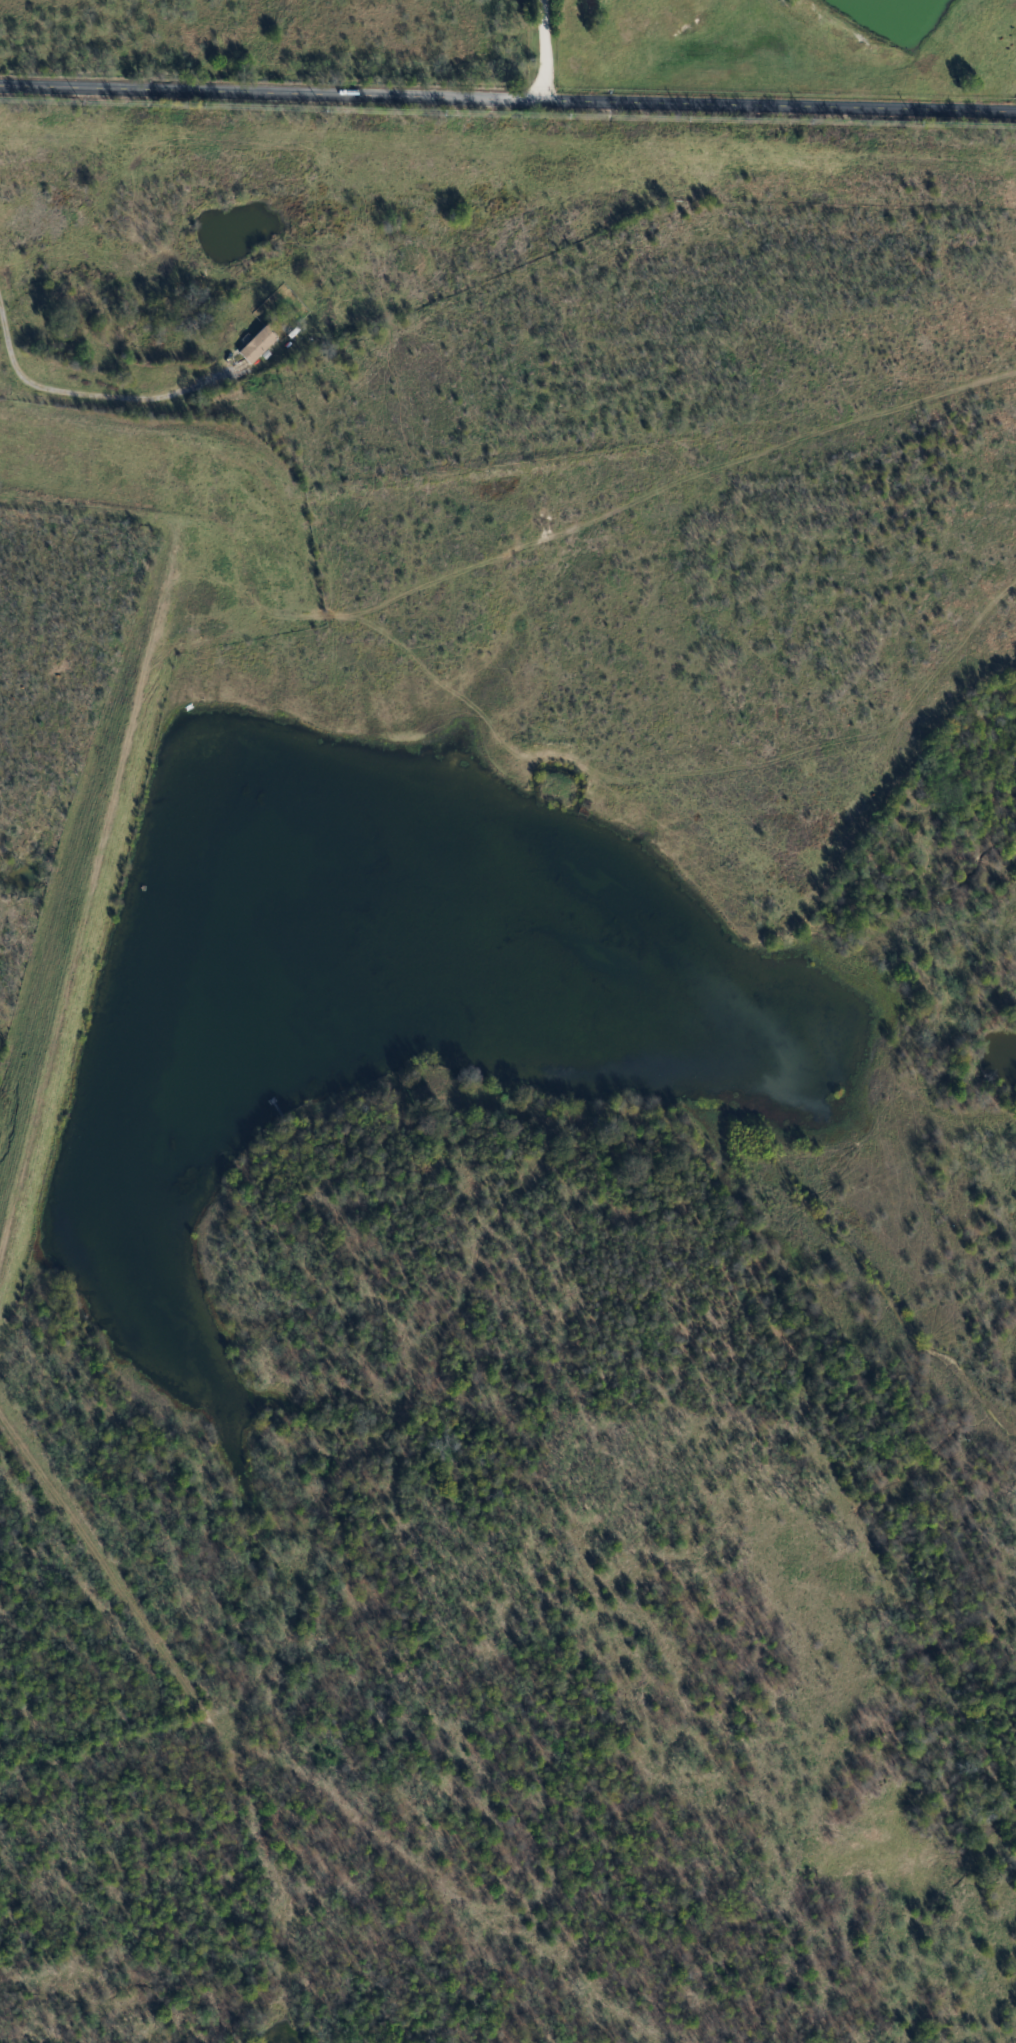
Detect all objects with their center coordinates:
road: (540, 50)
road: (507, 100)
building: (260, 342)
road: (80, 391)
road: (293, 477)
road: (210, 1566)

